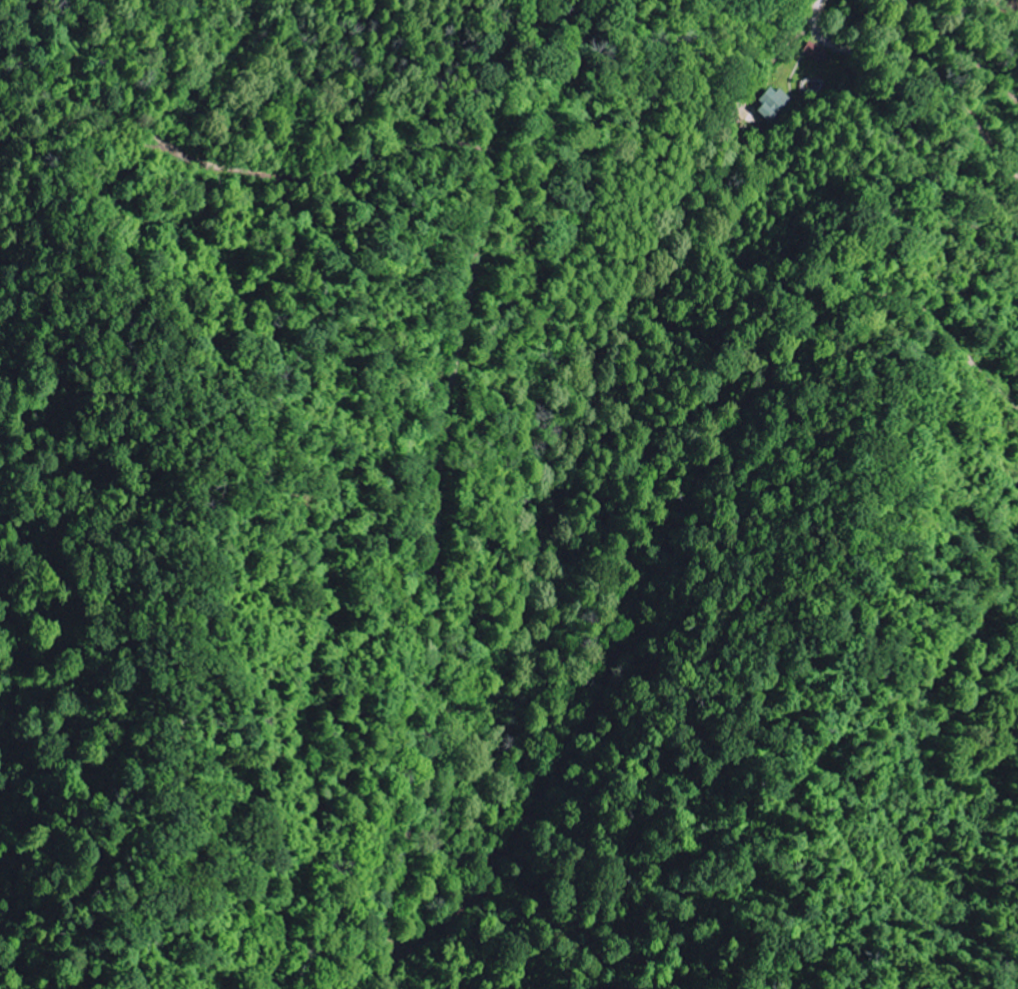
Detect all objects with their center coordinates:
building: (773, 103)
road: (921, 117)

